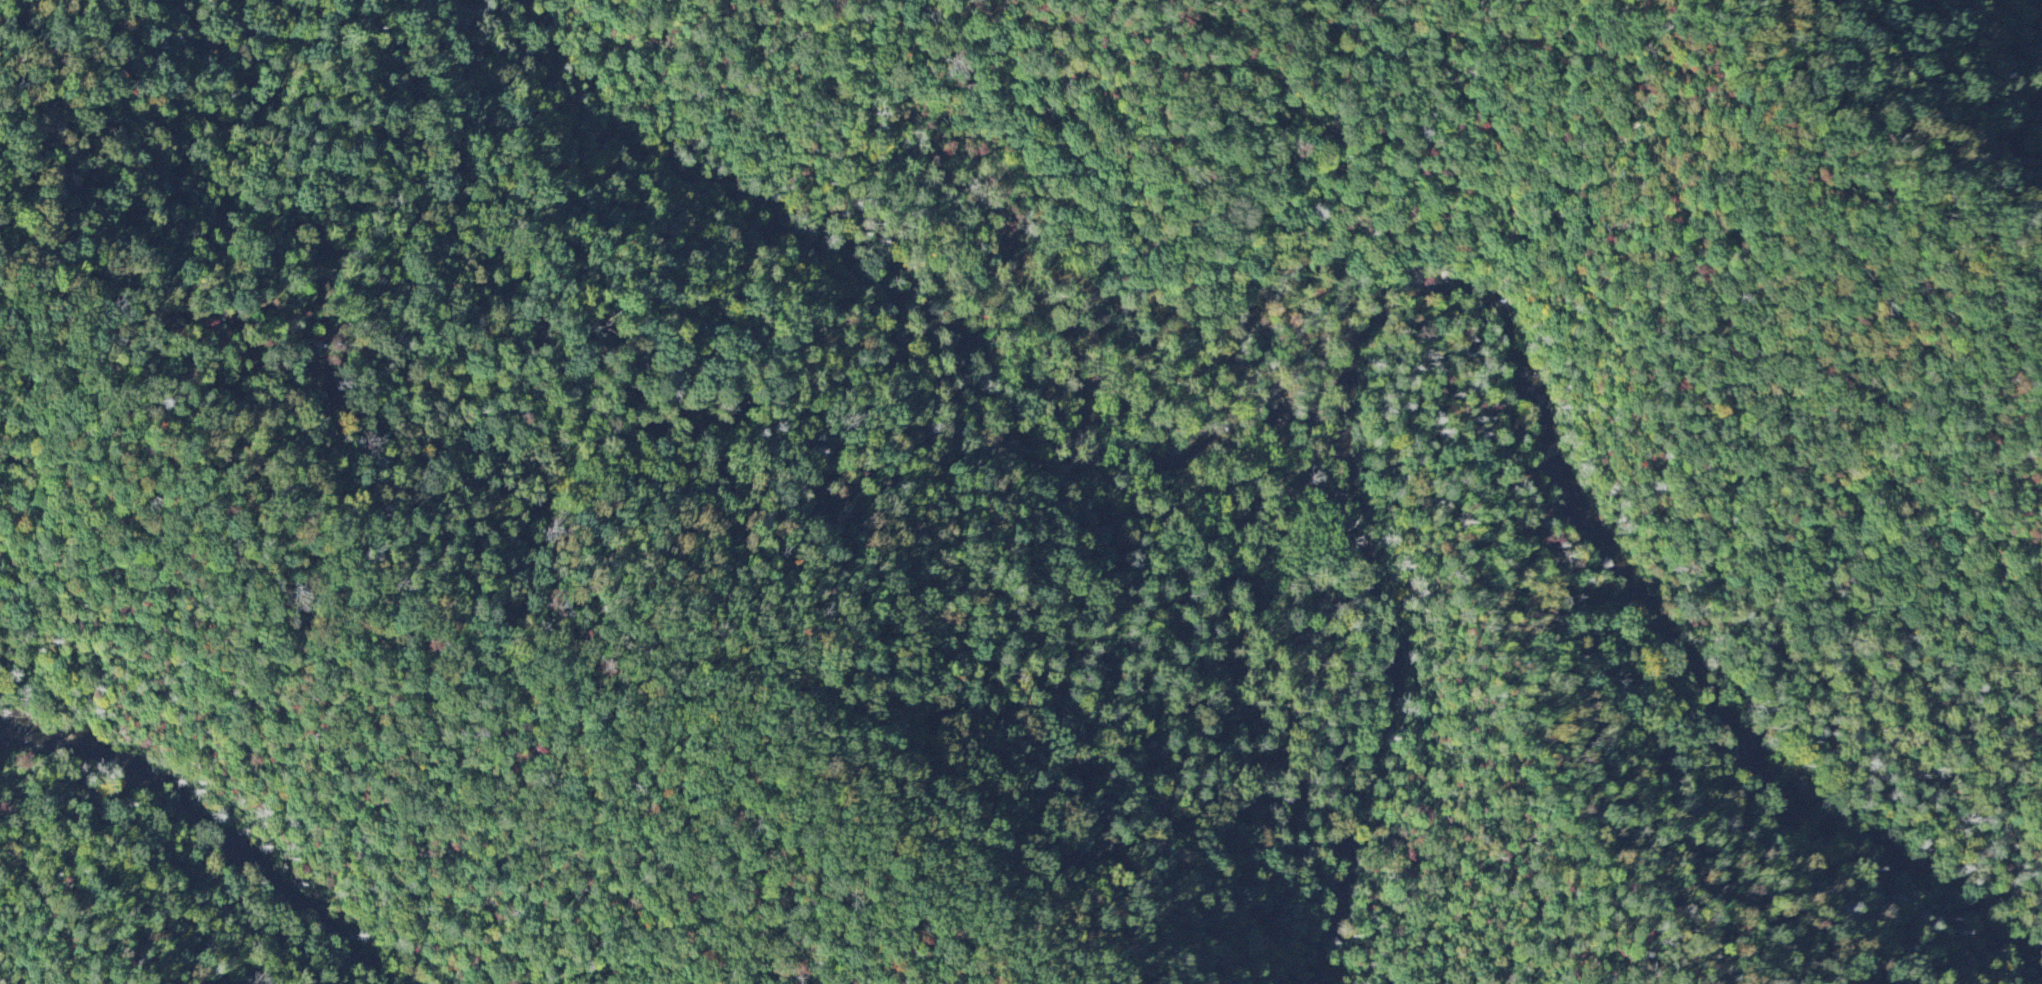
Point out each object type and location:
road: (1078, 376)
road: (1364, 531)
road: (1284, 558)
river: (1624, 574)
road: (1504, 697)
river: (1385, 723)
river: (211, 819)
road: (142, 891)

